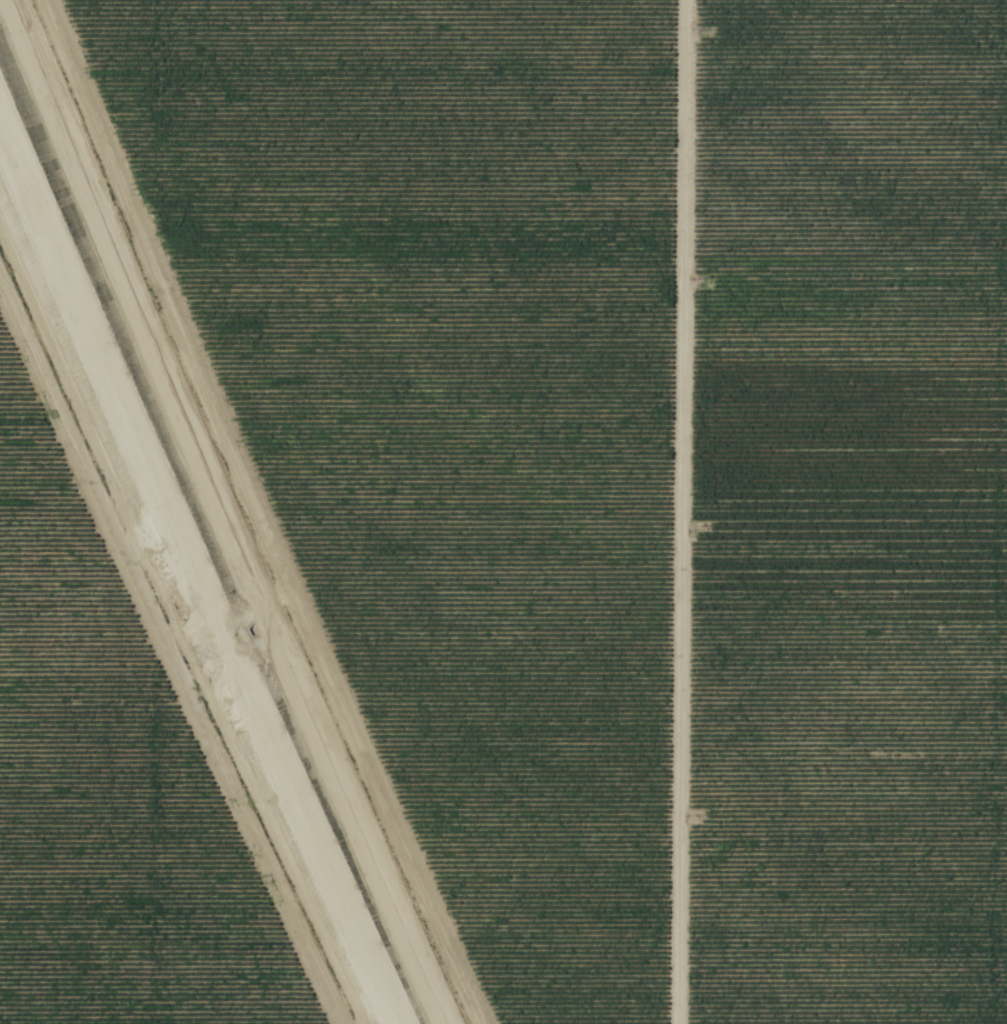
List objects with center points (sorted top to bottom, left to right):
crop: (445, 416)
road: (672, 512)
crop: (844, 514)
railway: (196, 565)
railway: (191, 577)
crop: (105, 798)

